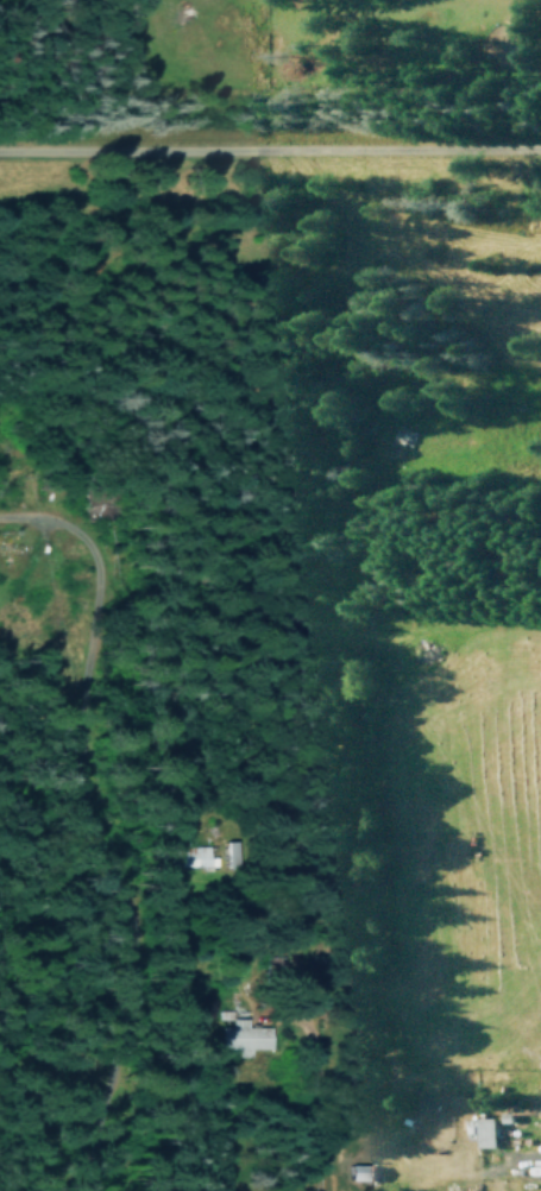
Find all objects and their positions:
road: (270, 155)
building: (228, 853)
building: (191, 855)
road: (101, 889)
building: (243, 1035)
road: (315, 1109)
building: (485, 1132)
building: (360, 1171)

